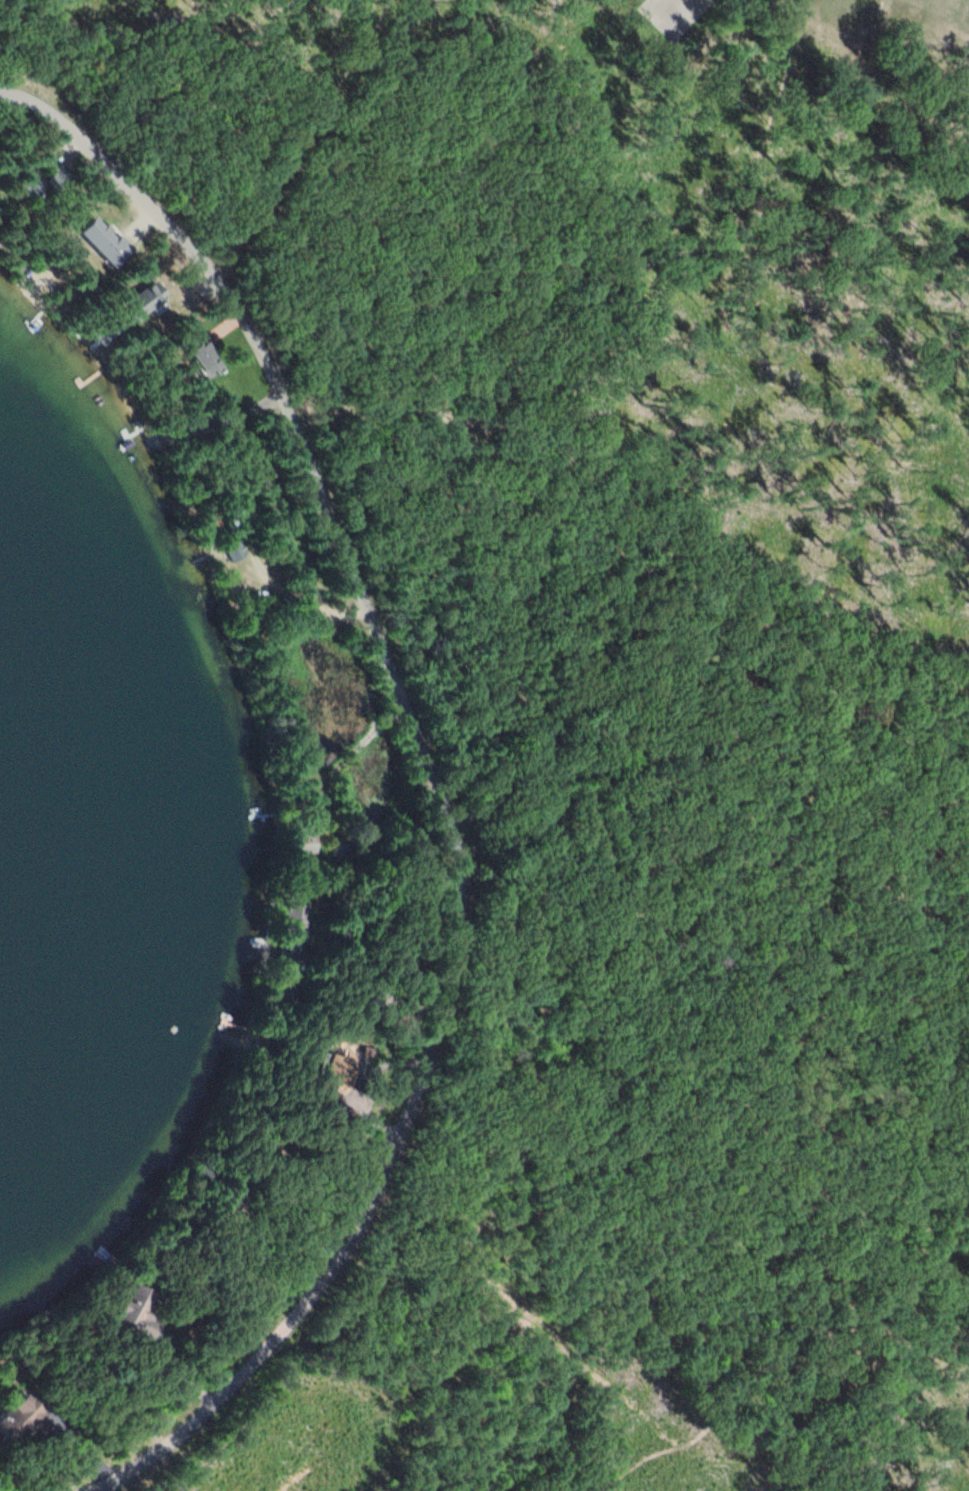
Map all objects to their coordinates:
building: (23, 186)
building: (140, 299)
building: (192, 355)
road: (532, 448)
building: (233, 549)
road: (585, 682)
road: (433, 785)
building: (302, 843)
building: (344, 847)
building: (295, 924)
building: (285, 991)
building: (376, 1003)
building: (334, 1063)
building: (202, 1173)
building: (134, 1314)
road: (777, 1365)
building: (17, 1417)

